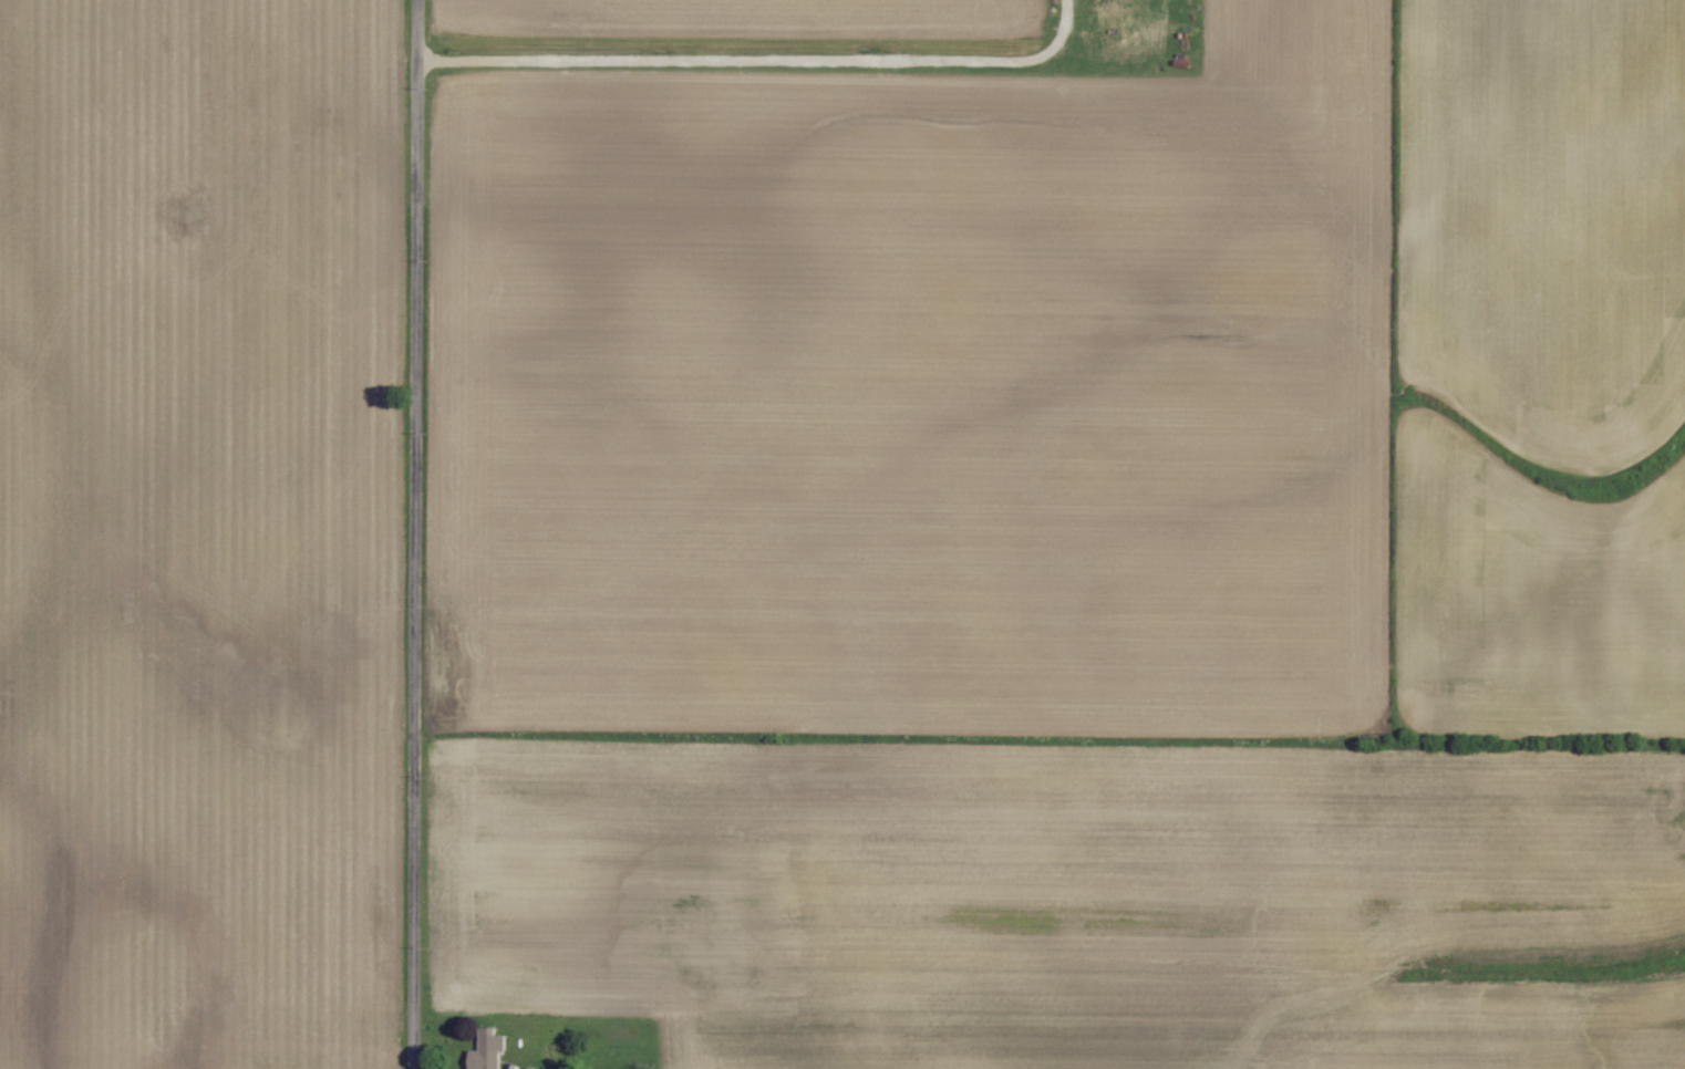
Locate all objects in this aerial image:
road: (763, 59)
road: (416, 533)
building: (490, 1050)

